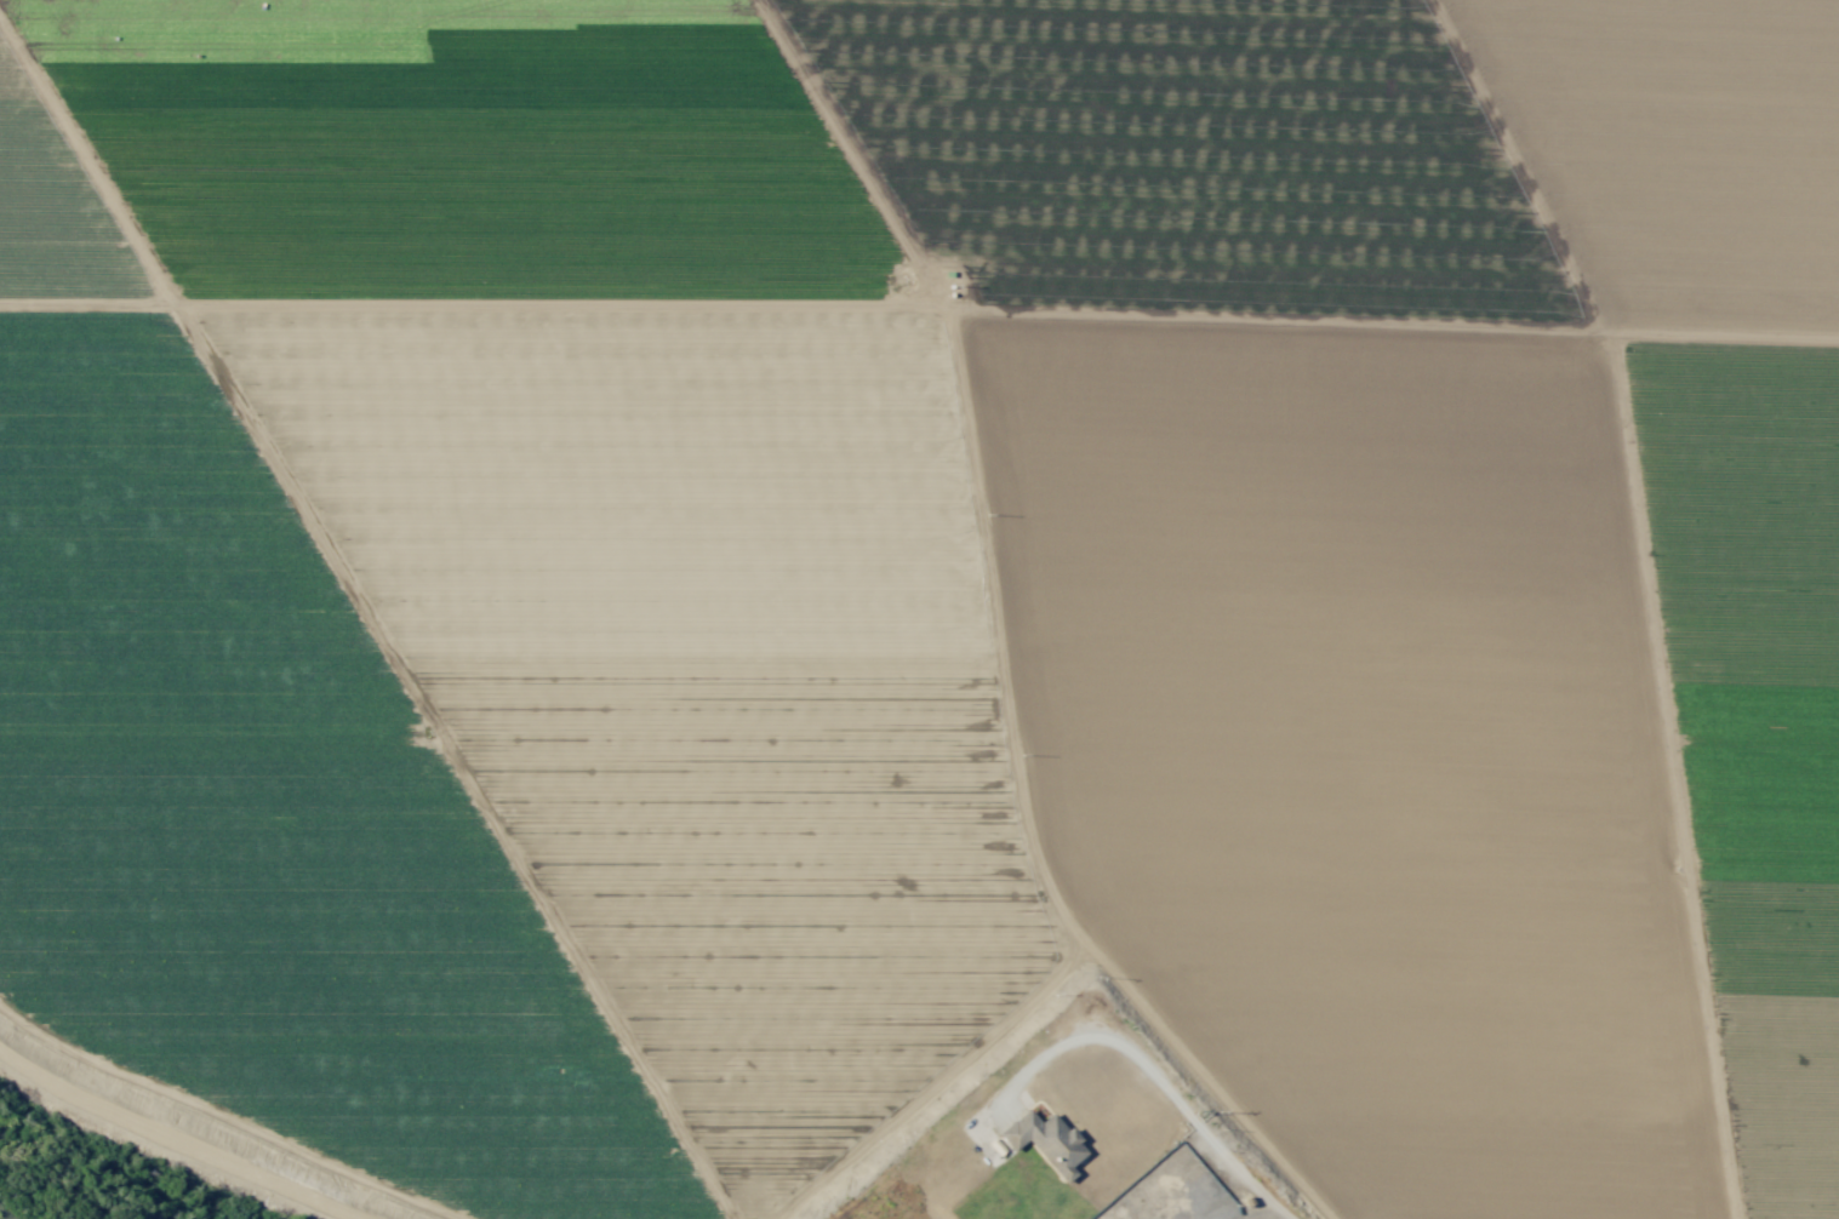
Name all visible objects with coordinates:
crop: (927, 576)
road: (1207, 1117)
building: (1044, 1140)

